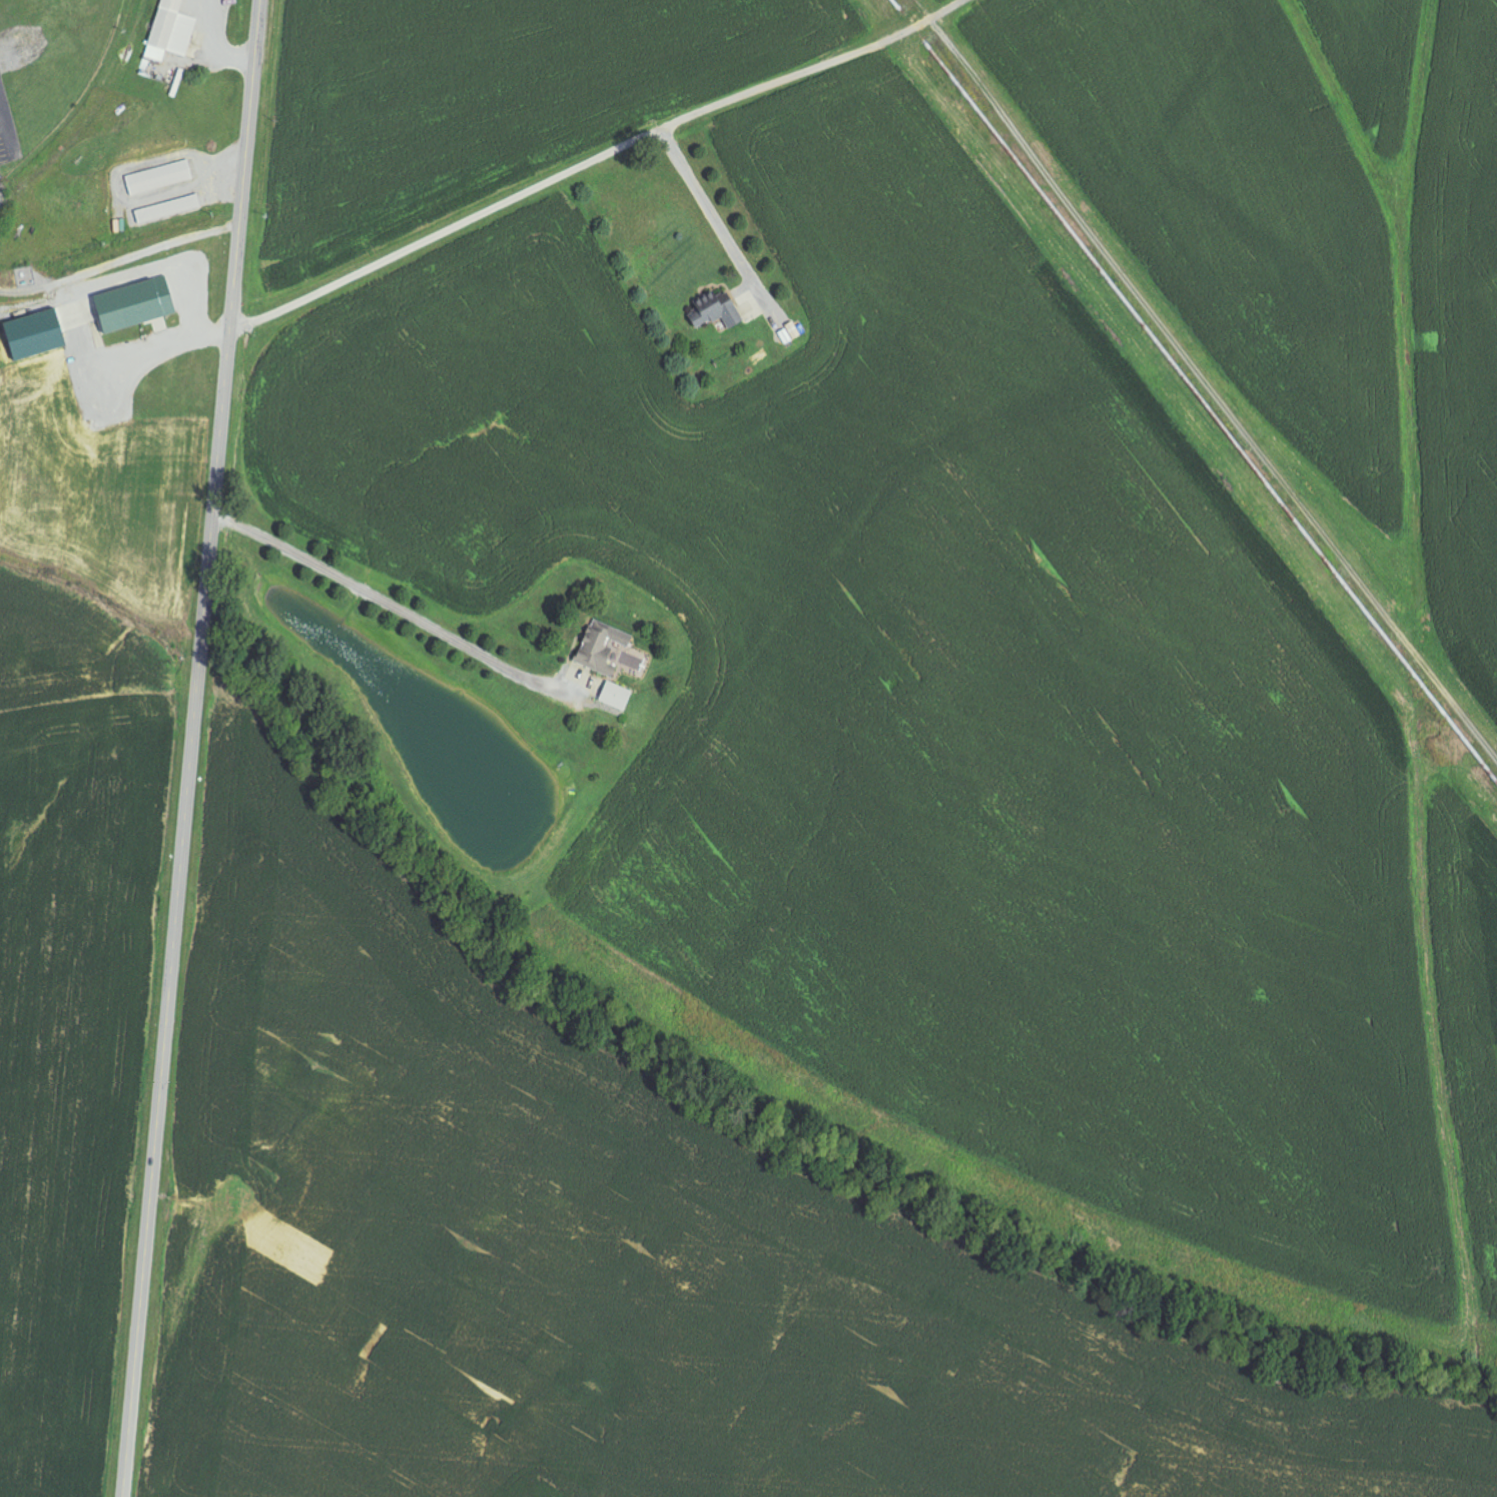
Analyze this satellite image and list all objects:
building: (172, 31)
road: (593, 160)
building: (161, 176)
building: (169, 208)
building: (137, 303)
building: (718, 313)
building: (37, 333)
road: (393, 605)
building: (600, 650)
building: (617, 695)
road: (191, 748)

